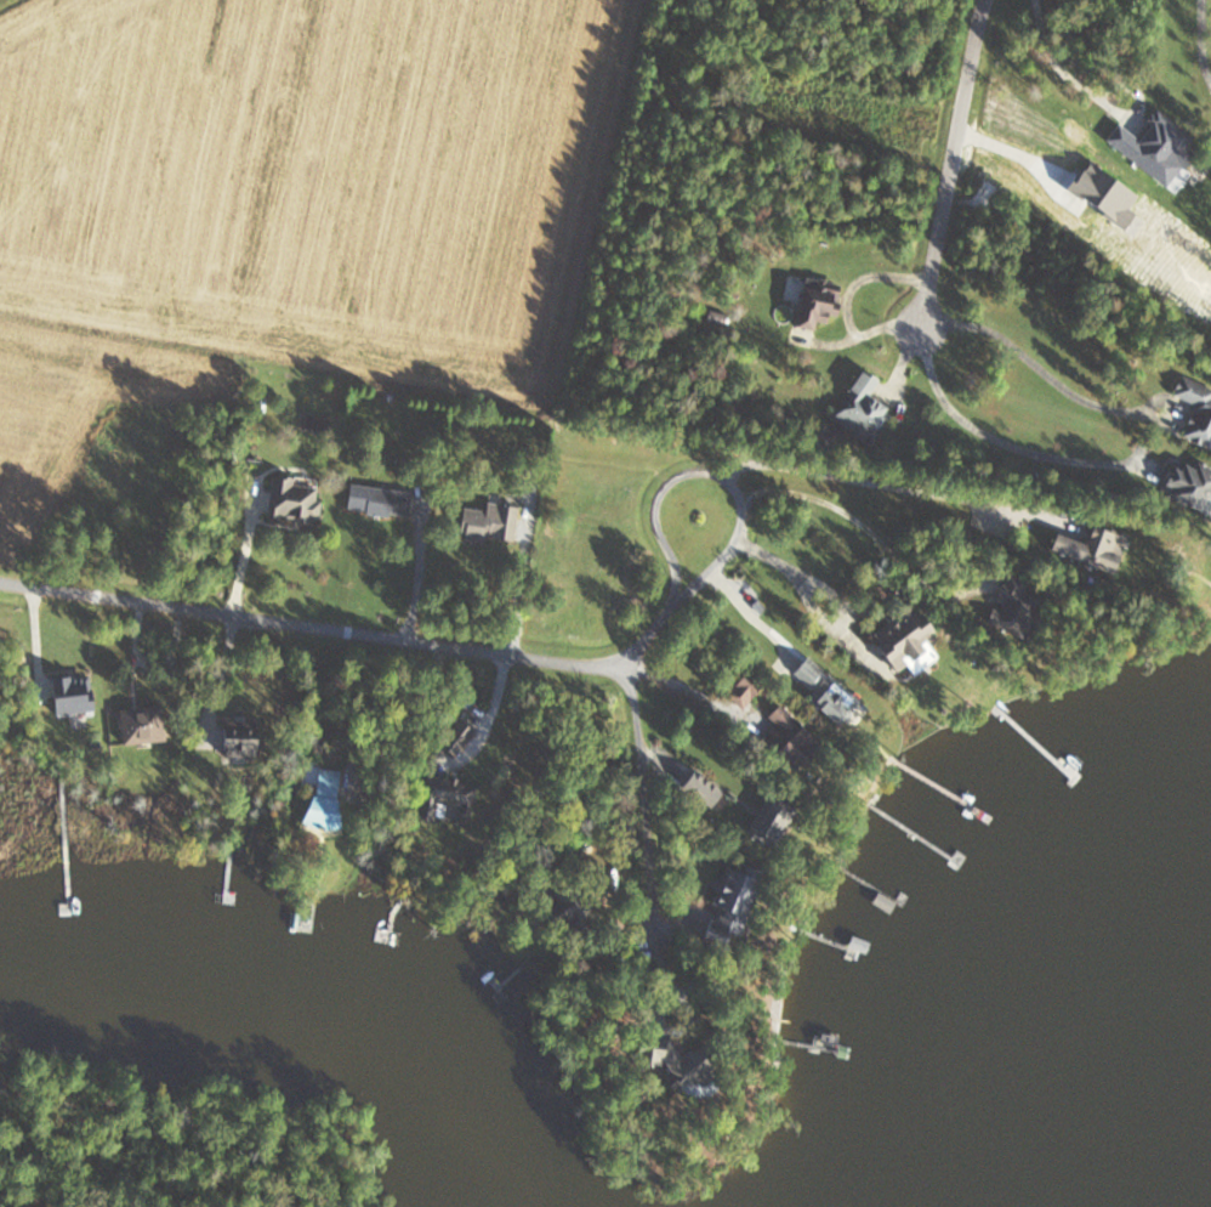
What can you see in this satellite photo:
road: (1199, 42)
road: (1048, 52)
road: (1137, 97)
building: (1148, 147)
road: (951, 160)
building: (813, 306)
road: (1035, 364)
building: (858, 409)
building: (1194, 410)
road: (988, 436)
building: (1186, 482)
road: (738, 493)
building: (291, 498)
building: (375, 500)
building: (488, 522)
road: (868, 527)
building: (1101, 548)
road: (806, 589)
road: (835, 596)
road: (750, 613)
road: (313, 628)
building: (899, 635)
building: (819, 686)
building: (740, 687)
building: (137, 724)
building: (783, 731)
building: (232, 736)
building: (453, 739)
building: (697, 787)
building: (318, 800)
road: (641, 815)
building: (727, 905)

